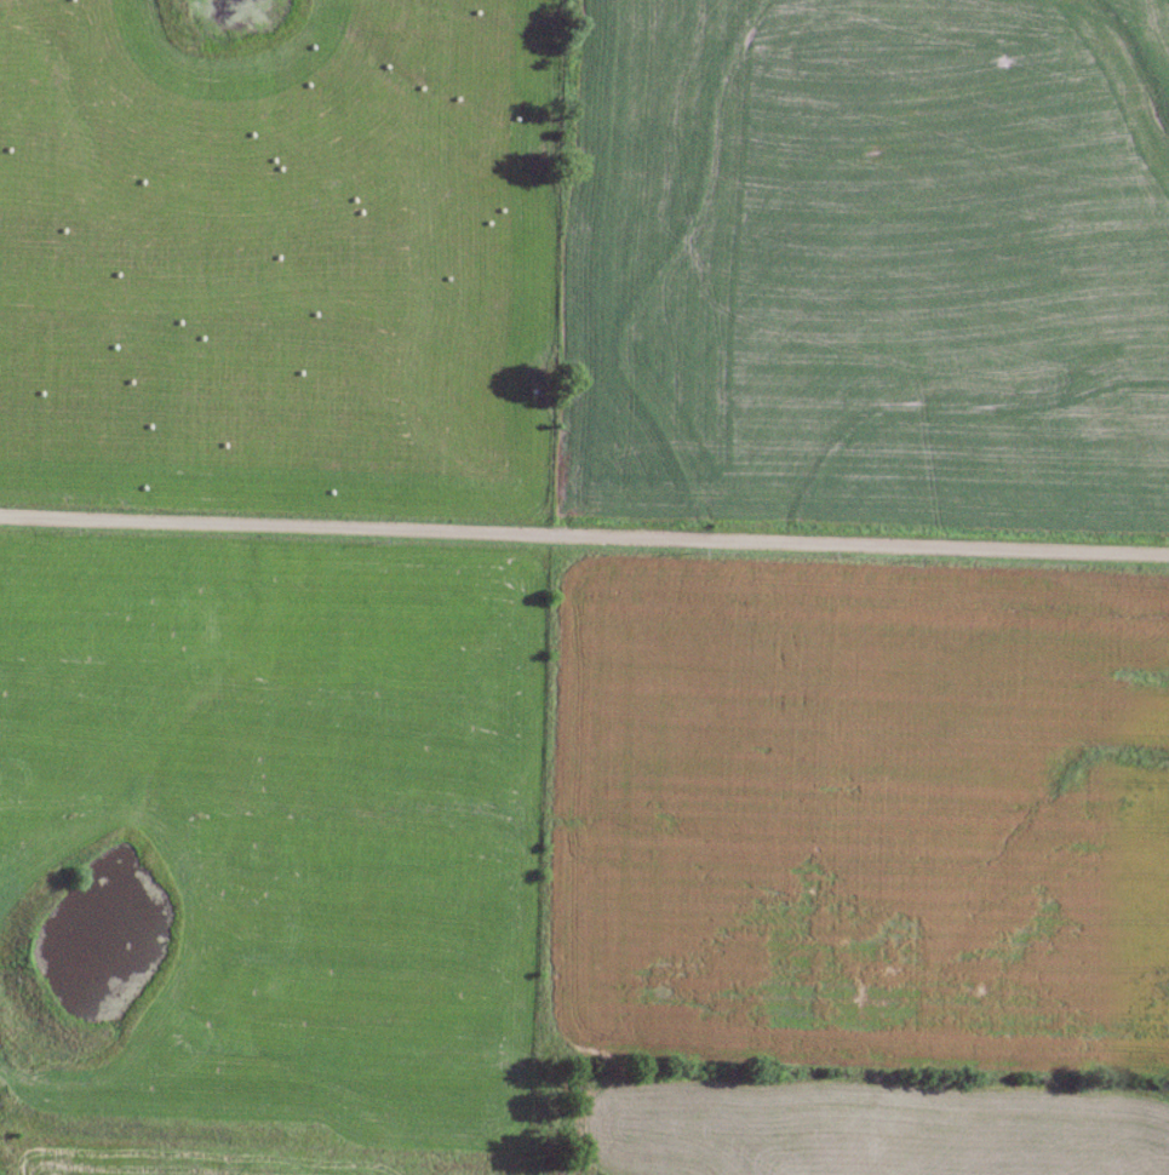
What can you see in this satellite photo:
road: (584, 539)
crop: (856, 814)

